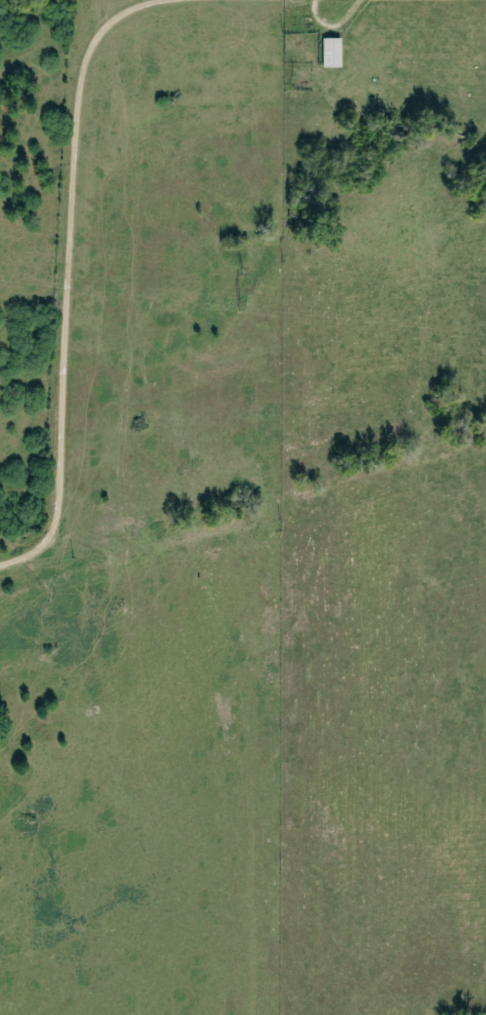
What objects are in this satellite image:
building: (331, 52)
road: (72, 261)
power tower: (240, 308)
road: (14, 559)

